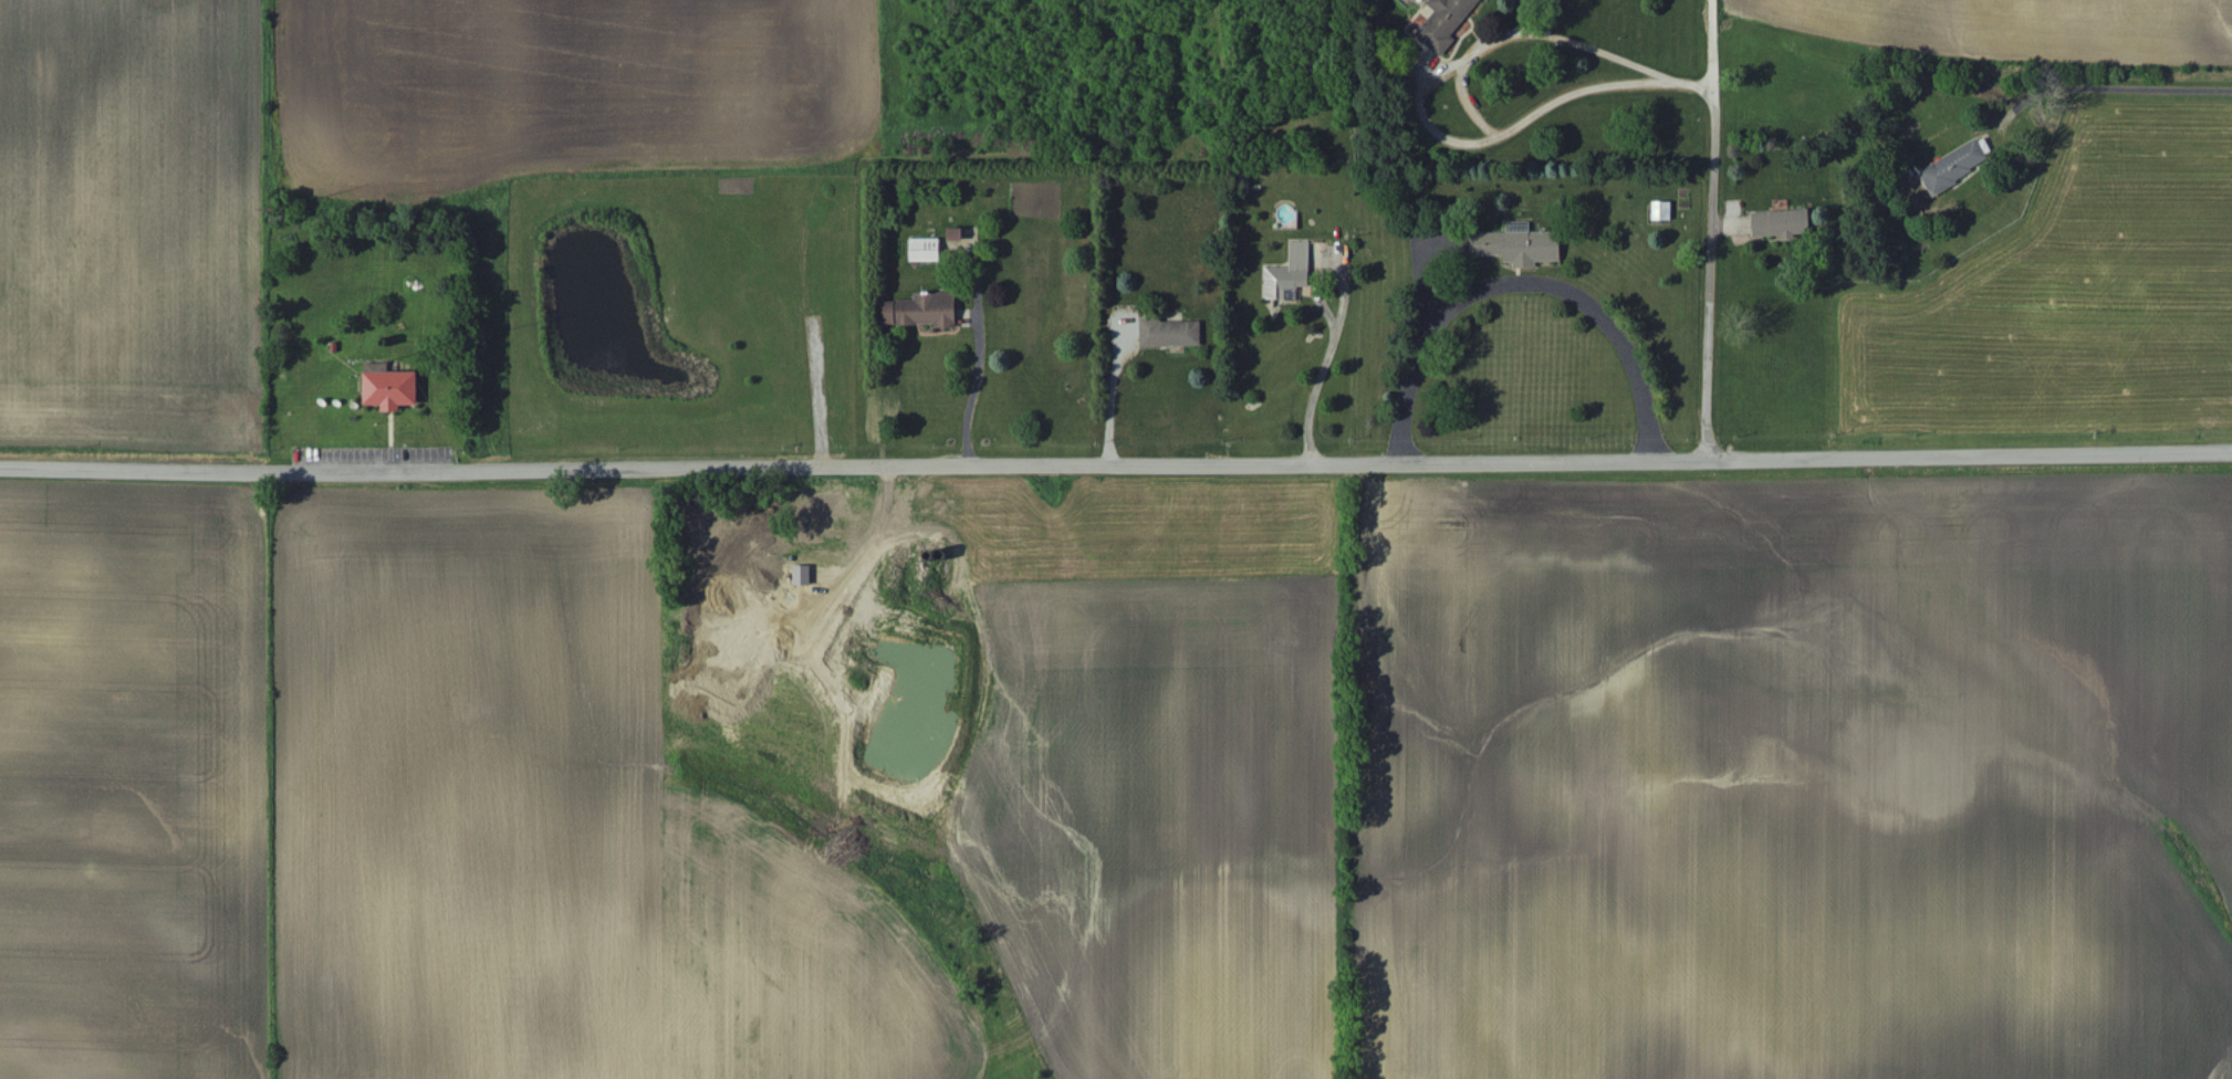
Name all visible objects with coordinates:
building: (1447, 23)
road: (2105, 92)
building: (1957, 167)
building: (1662, 212)
building: (1783, 224)
road: (1710, 230)
building: (958, 238)
building: (1519, 247)
building: (927, 251)
building: (1289, 275)
road: (1519, 280)
building: (924, 312)
road: (1335, 326)
building: (1172, 334)
building: (392, 389)
road: (971, 391)
road: (1115, 464)

